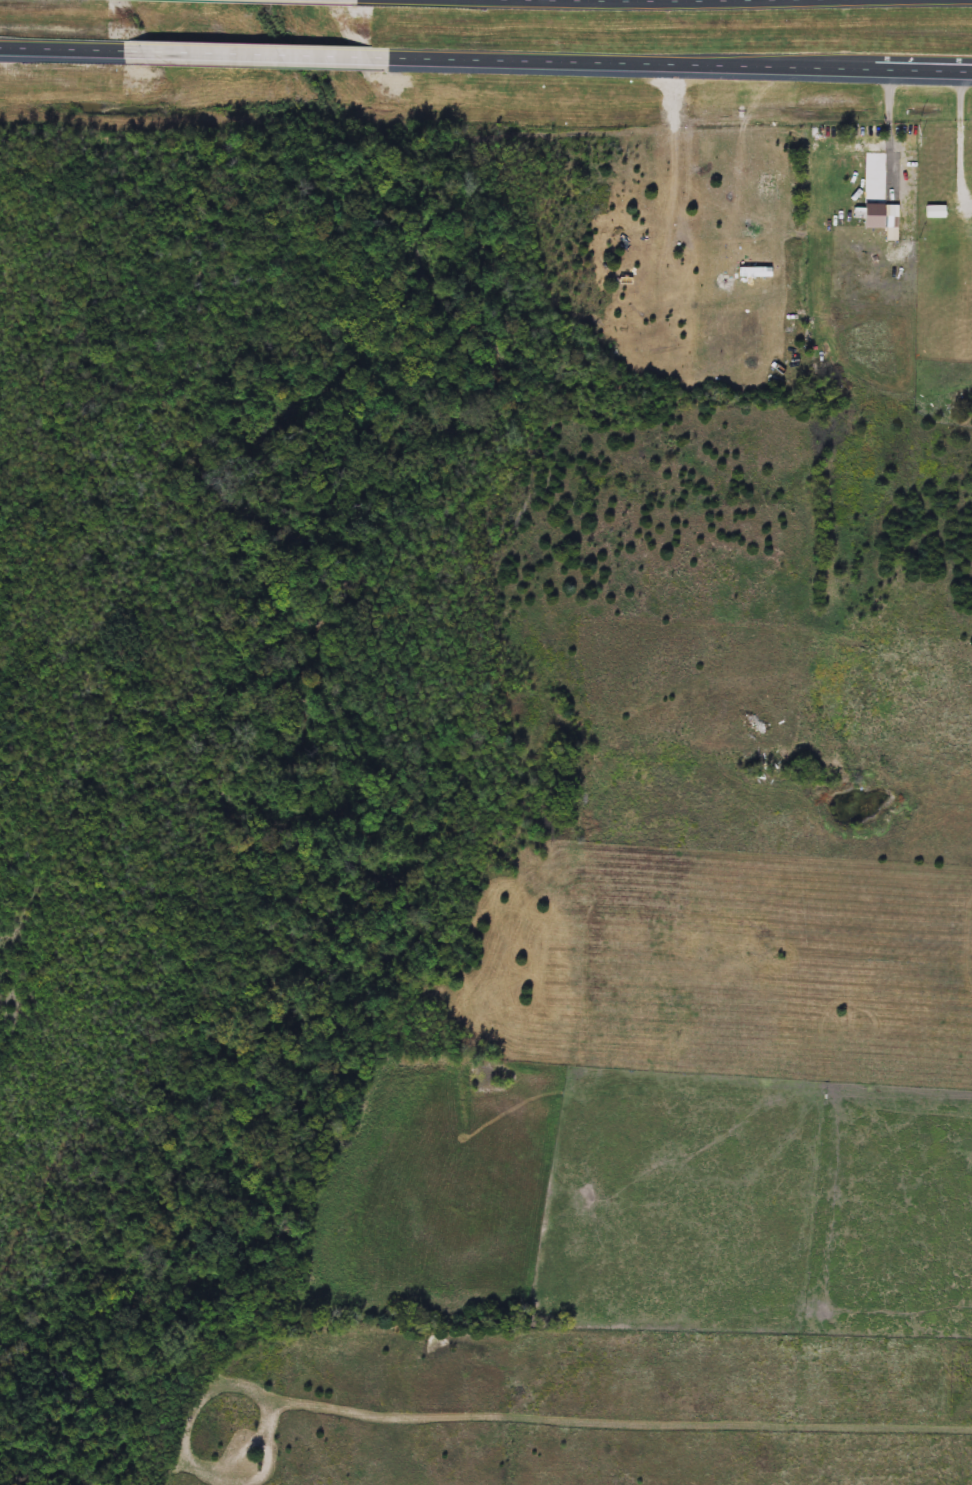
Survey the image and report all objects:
road: (63, 52)
road: (259, 57)
road: (681, 68)
road: (964, 136)
building: (970, 249)

